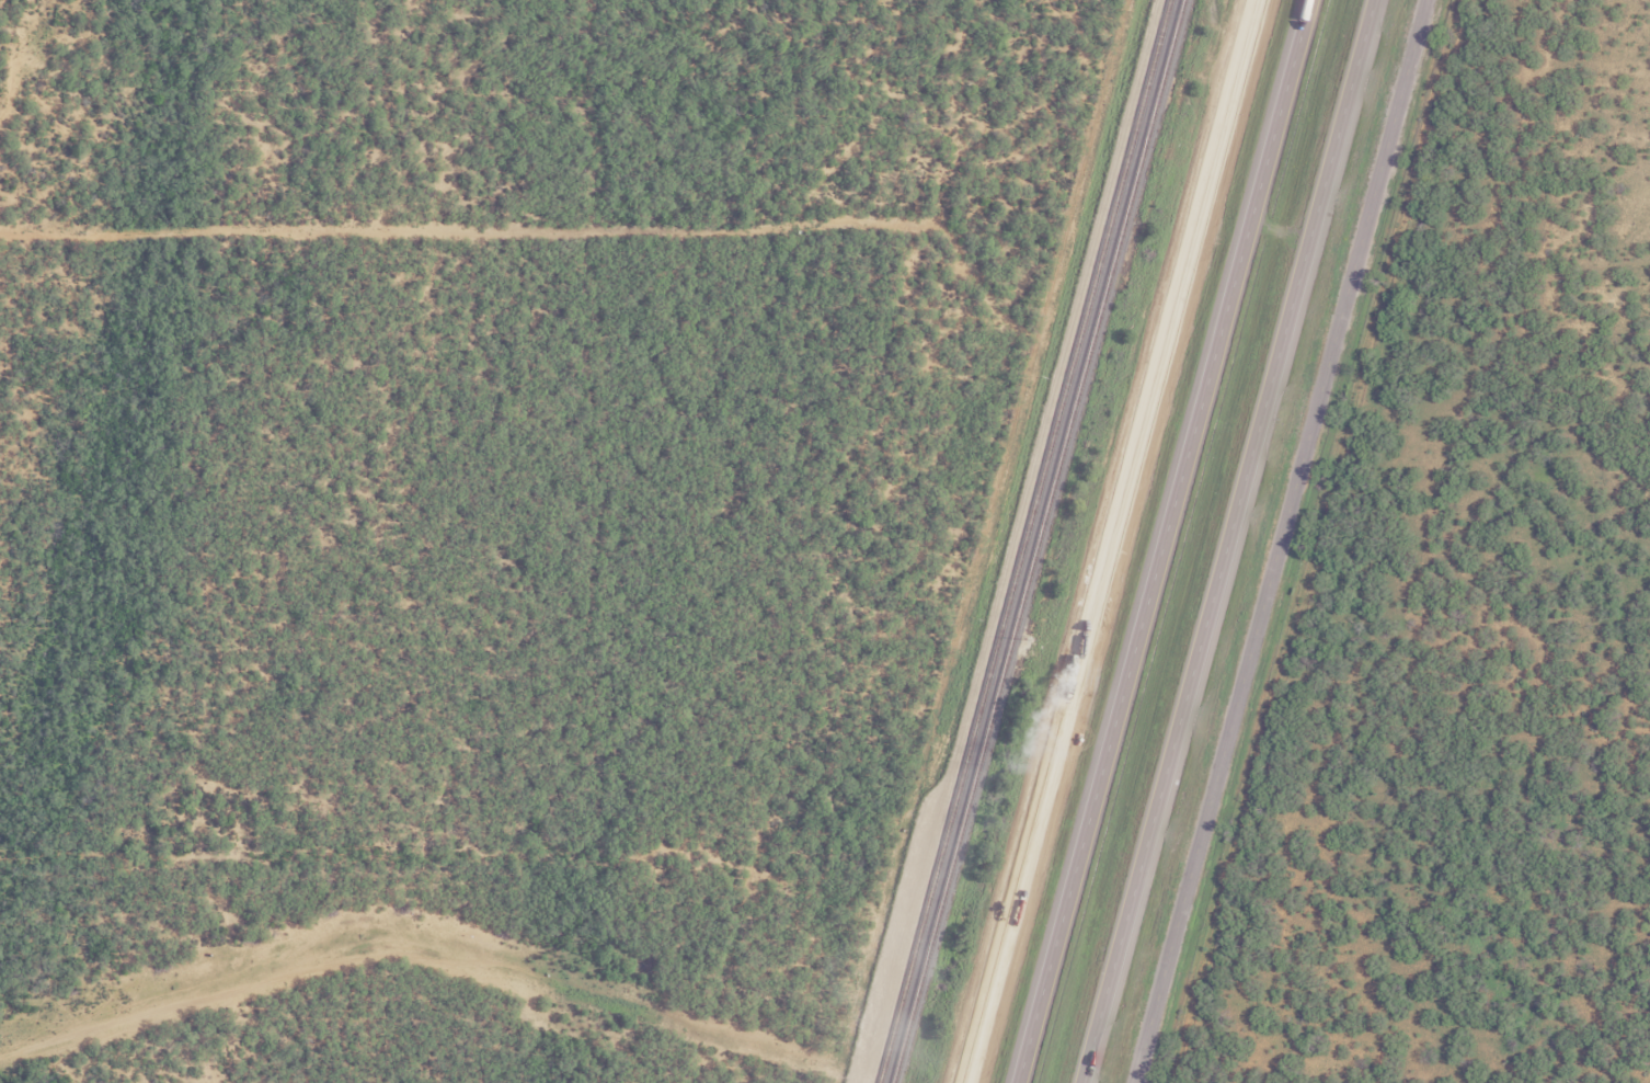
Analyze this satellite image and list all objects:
railway: (1034, 540)
road: (1162, 540)
road: (1226, 540)
road: (1109, 541)
road: (1282, 541)

